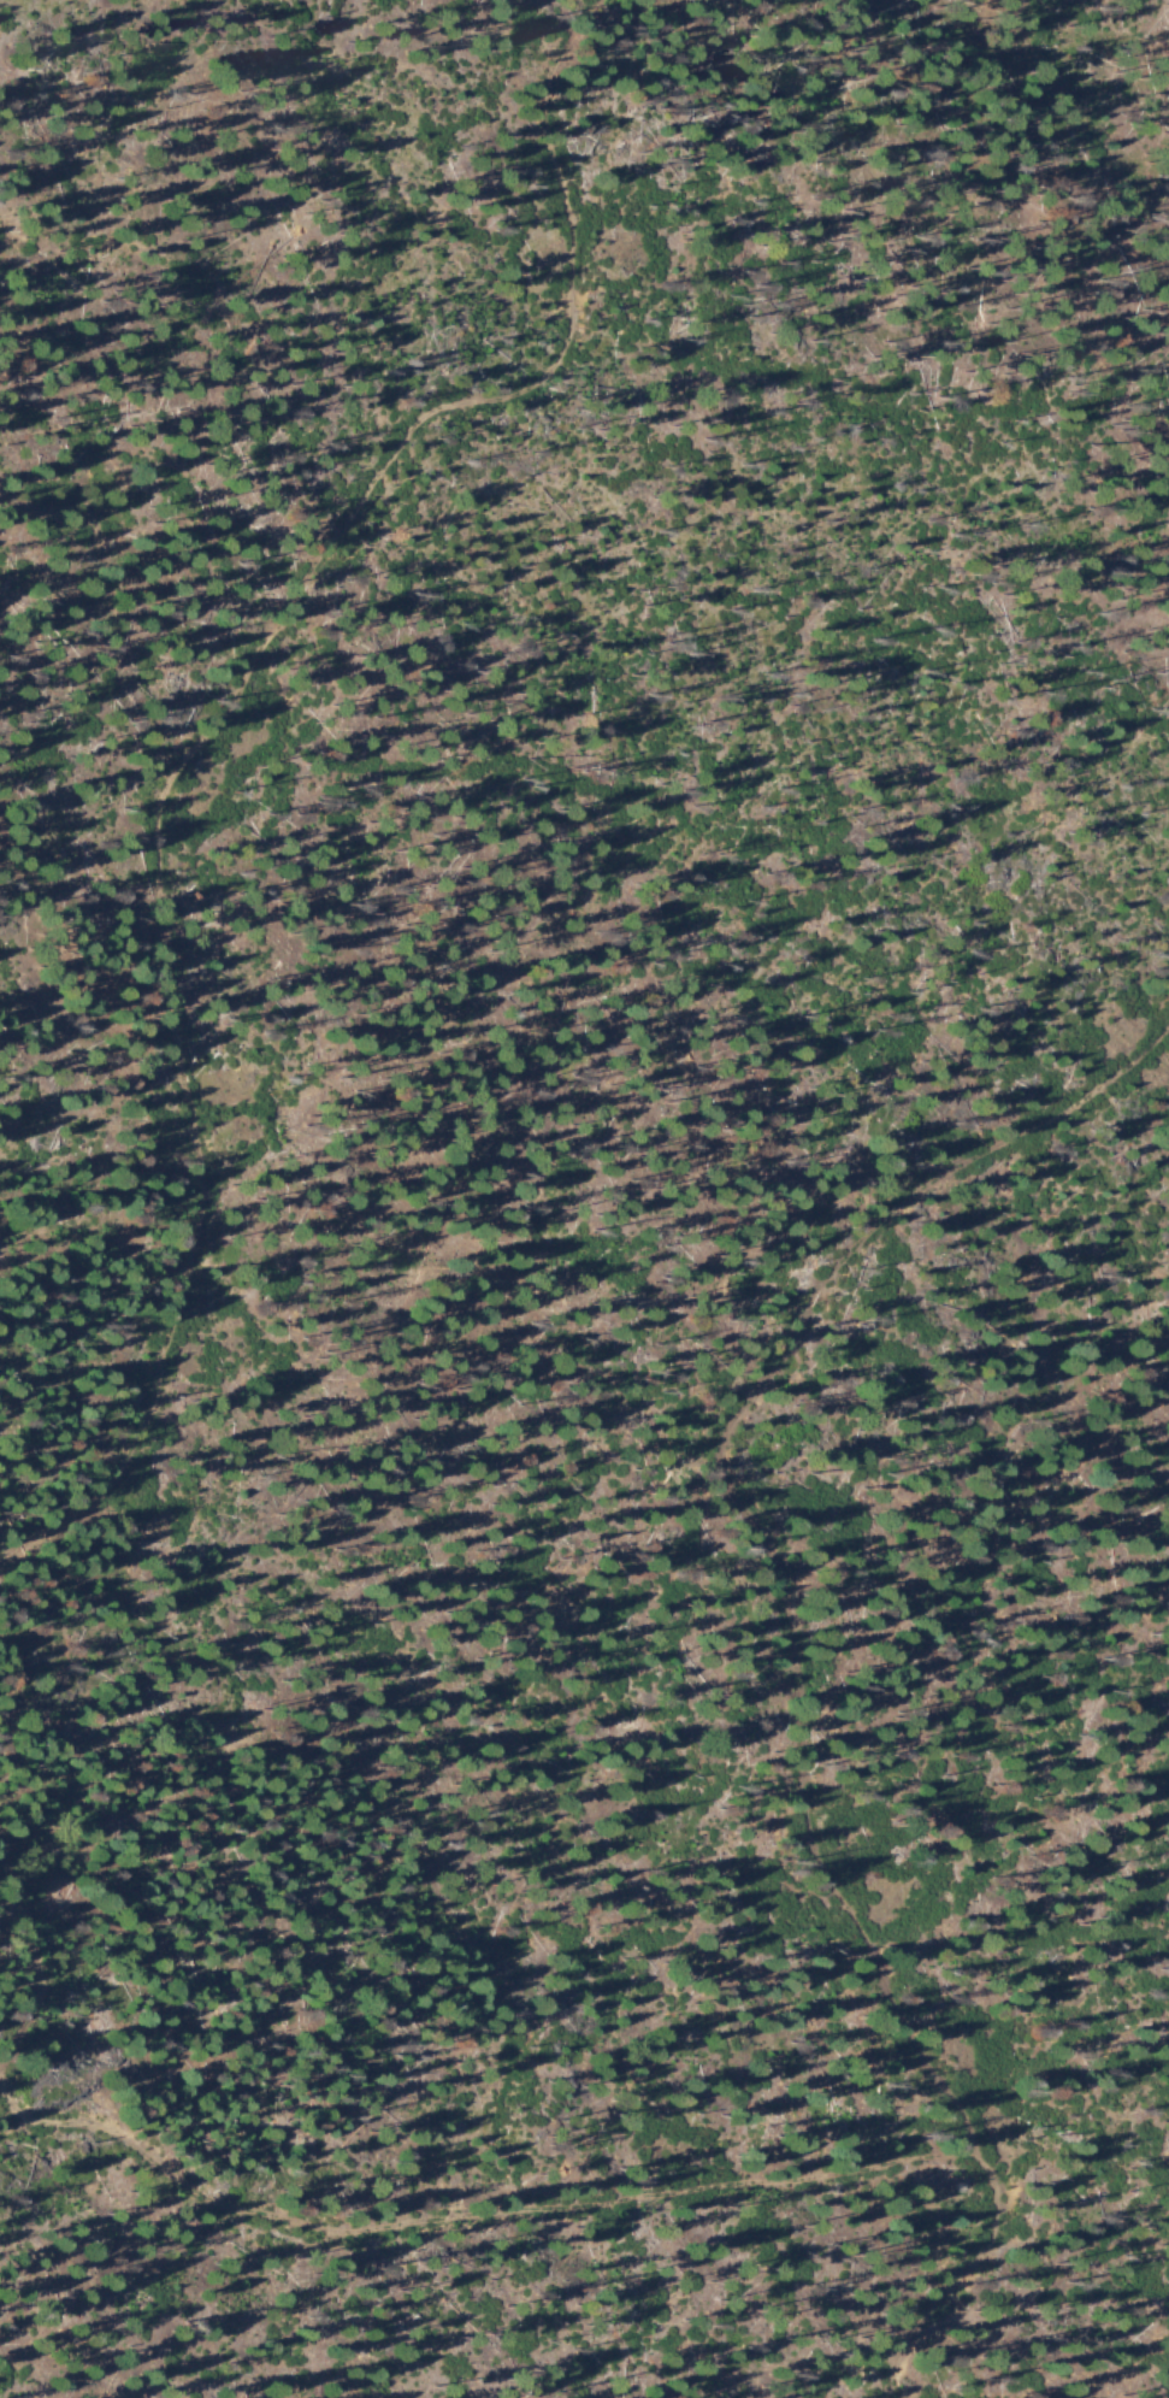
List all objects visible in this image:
road: (307, 500)
road: (756, 1538)
road: (468, 2239)
road: (976, 2296)

